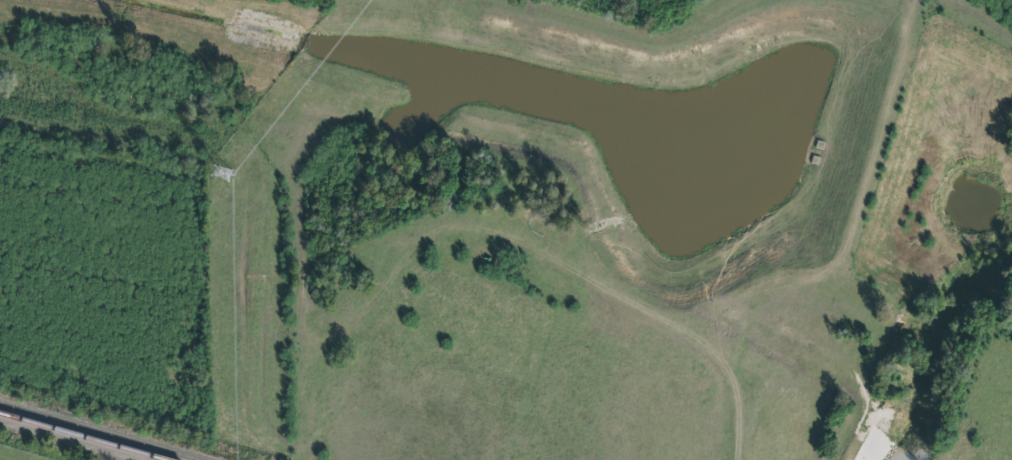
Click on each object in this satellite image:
power tower: (219, 177)
railway: (99, 432)
railway: (80, 437)

